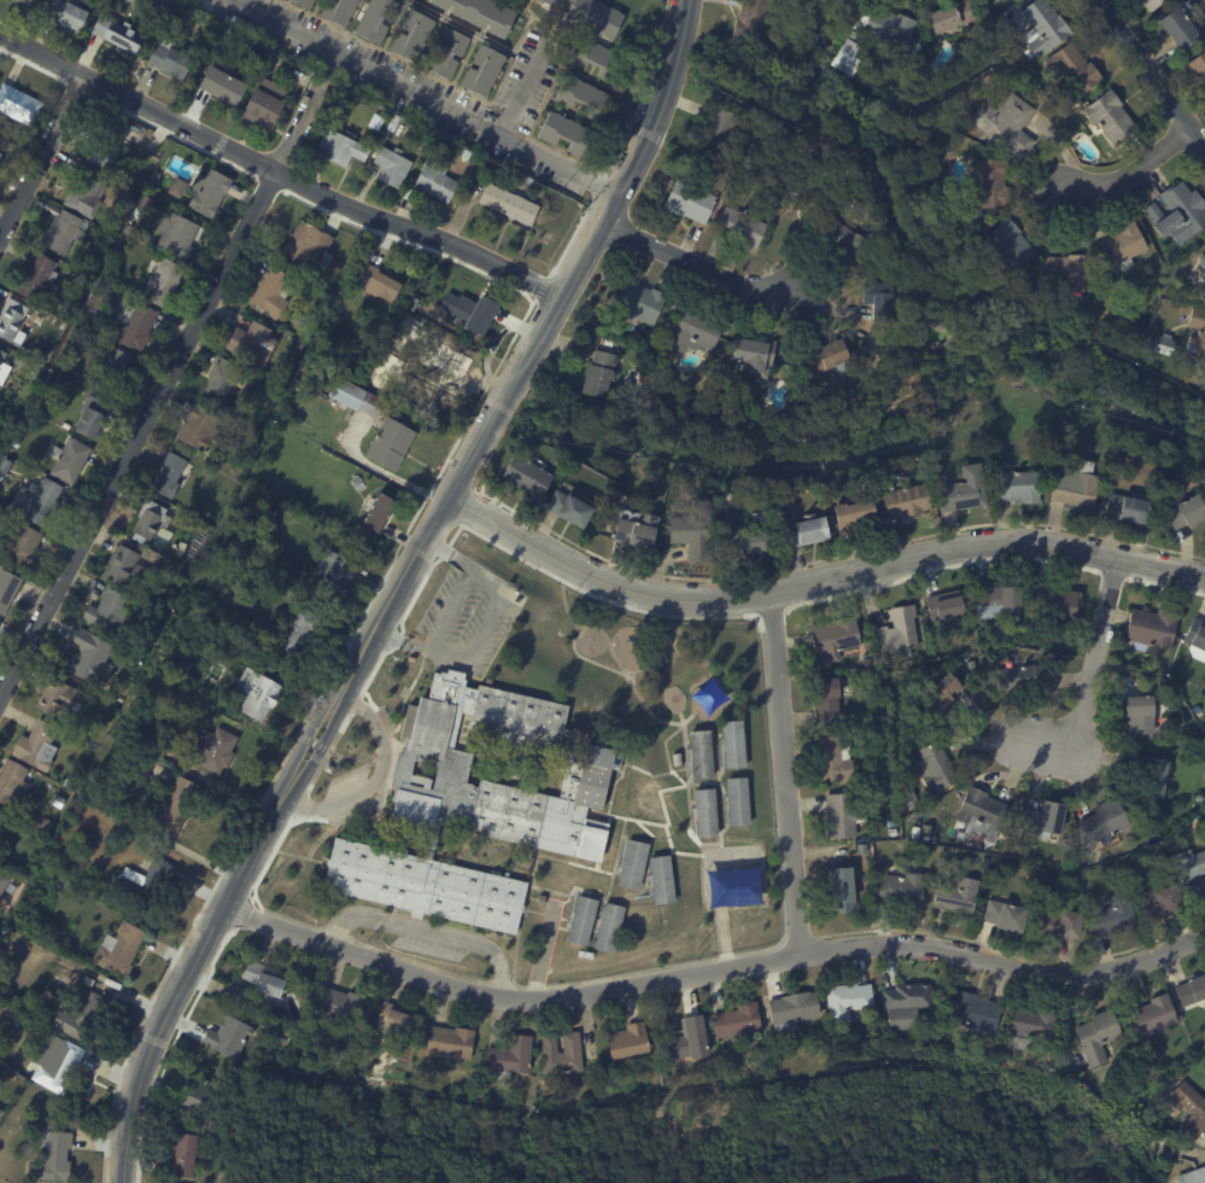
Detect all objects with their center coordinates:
building: (992, 0)
building: (549, 1)
building: (23, 2)
building: (303, 2)
building: (1153, 4)
road: (245, 5)
building: (338, 11)
building: (64, 13)
building: (479, 14)
building: (952, 14)
building: (597, 17)
building: (753, 18)
building: (376, 19)
building: (240, 25)
building: (1043, 25)
building: (1182, 25)
building: (887, 30)
building: (116, 34)
building: (413, 36)
building: (941, 39)
building: (813, 42)
building: (446, 52)
building: (1029, 53)
building: (847, 58)
building: (598, 60)
building: (170, 63)
building: (273, 66)
building: (1074, 66)
building: (1199, 66)
building: (482, 70)
road: (1148, 72)
building: (222, 84)
road: (526, 91)
road: (420, 98)
building: (584, 98)
building: (264, 104)
building: (18, 105)
building: (1111, 116)
building: (490, 117)
building: (1006, 122)
building: (720, 123)
building: (33, 130)
building: (568, 134)
building: (105, 145)
building: (339, 148)
building: (0, 153)
road: (41, 156)
building: (391, 167)
road: (1135, 169)
road: (275, 173)
building: (153, 179)
building: (807, 181)
building: (990, 181)
building: (434, 182)
building: (176, 187)
building: (152, 190)
building: (84, 193)
building: (206, 193)
building: (411, 196)
building: (690, 200)
building: (141, 203)
building: (508, 204)
building: (129, 206)
building: (49, 209)
building: (1180, 211)
building: (134, 212)
building: (741, 228)
building: (127, 229)
building: (63, 233)
building: (174, 237)
building: (850, 237)
building: (306, 244)
building: (1011, 244)
building: (1122, 245)
road: (581, 252)
building: (112, 253)
road: (697, 258)
building: (1067, 272)
building: (1204, 275)
building: (36, 278)
building: (376, 281)
building: (162, 284)
building: (101, 289)
building: (271, 291)
building: (878, 297)
building: (639, 301)
building: (469, 309)
building: (1142, 311)
building: (17, 317)
building: (135, 326)
building: (695, 328)
building: (614, 330)
building: (1198, 331)
building: (248, 339)
building: (667, 340)
building: (608, 342)
building: (1164, 343)
building: (754, 354)
building: (826, 355)
building: (1, 357)
building: (21, 362)
building: (107, 369)
building: (4, 373)
building: (598, 373)
building: (220, 379)
road: (162, 391)
building: (355, 396)
building: (90, 418)
building: (65, 426)
building: (199, 427)
building: (390, 443)
building: (14, 444)
building: (1175, 451)
building: (558, 460)
building: (68, 461)
building: (168, 474)
building: (1105, 474)
building: (527, 478)
building: (1118, 478)
building: (628, 479)
building: (1076, 484)
building: (1017, 485)
building: (961, 488)
building: (727, 494)
building: (625, 500)
building: (760, 500)
building: (906, 501)
building: (40, 505)
building: (568, 506)
building: (1128, 506)
building: (376, 509)
building: (1186, 511)
building: (757, 515)
building: (855, 515)
building: (148, 520)
building: (638, 528)
building: (694, 530)
building: (803, 531)
building: (741, 541)
building: (21, 548)
building: (118, 564)
building: (183, 572)
building: (334, 573)
road: (820, 578)
building: (7, 590)
building: (996, 600)
building: (944, 604)
building: (1055, 604)
road: (452, 611)
building: (109, 612)
parking lot: (466, 620)
building: (180, 622)
building: (241, 627)
building: (1152, 628)
road: (486, 629)
building: (899, 631)
building: (299, 633)
building: (835, 636)
building: (1197, 640)
building: (145, 648)
building: (92, 658)
building: (867, 662)
building: (1023, 675)
road: (1089, 681)
building: (1164, 687)
building: (257, 692)
building: (941, 694)
building: (171, 695)
building: (55, 699)
building: (826, 700)
building: (901, 705)
building: (881, 706)
building: (1198, 709)
building: (1140, 713)
building: (878, 717)
building: (732, 744)
building: (36, 747)
building: (210, 750)
building: (701, 753)
building: (678, 759)
building: (835, 759)
building: (328, 768)
building: (936, 768)
road: (786, 773)
building: (1151, 776)
building: (11, 782)
road: (375, 782)
park: (659, 791)
building: (1200, 797)
parking lot: (347, 799)
building: (737, 800)
building: (174, 804)
building: (475, 804)
building: (14, 811)
building: (704, 812)
building: (982, 814)
building: (842, 815)
building: (1, 816)
building: (27, 816)
building: (1043, 818)
building: (42, 822)
building: (1104, 822)
building: (893, 823)
building: (69, 827)
road: (264, 832)
building: (894, 832)
building: (1, 833)
building: (916, 833)
building: (1014, 847)
building: (862, 849)
building: (1024, 850)
building: (1159, 858)
building: (632, 864)
building: (1191, 875)
building: (660, 879)
building: (2, 882)
building: (145, 882)
building: (841, 890)
building: (900, 891)
building: (957, 896)
building: (539, 899)
building: (1160, 902)
building: (1100, 904)
building: (1006, 915)
building: (1112, 915)
building: (580, 920)
building: (1061, 923)
building: (608, 928)
road: (428, 934)
road: (724, 939)
building: (118, 949)
parking lot: (428, 949)
road: (543, 954)
road: (710, 971)
building: (87, 981)
building: (265, 981)
building: (1192, 991)
building: (239, 996)
building: (906, 997)
building: (849, 1002)
building: (338, 1008)
building: (791, 1010)
building: (976, 1012)
building: (82, 1018)
building: (1152, 1018)
building: (394, 1020)
building: (736, 1022)
building: (1030, 1024)
building: (1096, 1036)
building: (227, 1038)
building: (689, 1039)
building: (627, 1041)
building: (449, 1042)
building: (560, 1055)
building: (509, 1057)
building: (54, 1062)
building: (612, 1070)
building: (604, 1080)
building: (379, 1083)
building: (193, 1095)
building: (1175, 1107)
building: (1191, 1111)
building: (0, 1112)
building: (34, 1117)
building: (180, 1155)
building: (52, 1159)
building: (1192, 1175)

